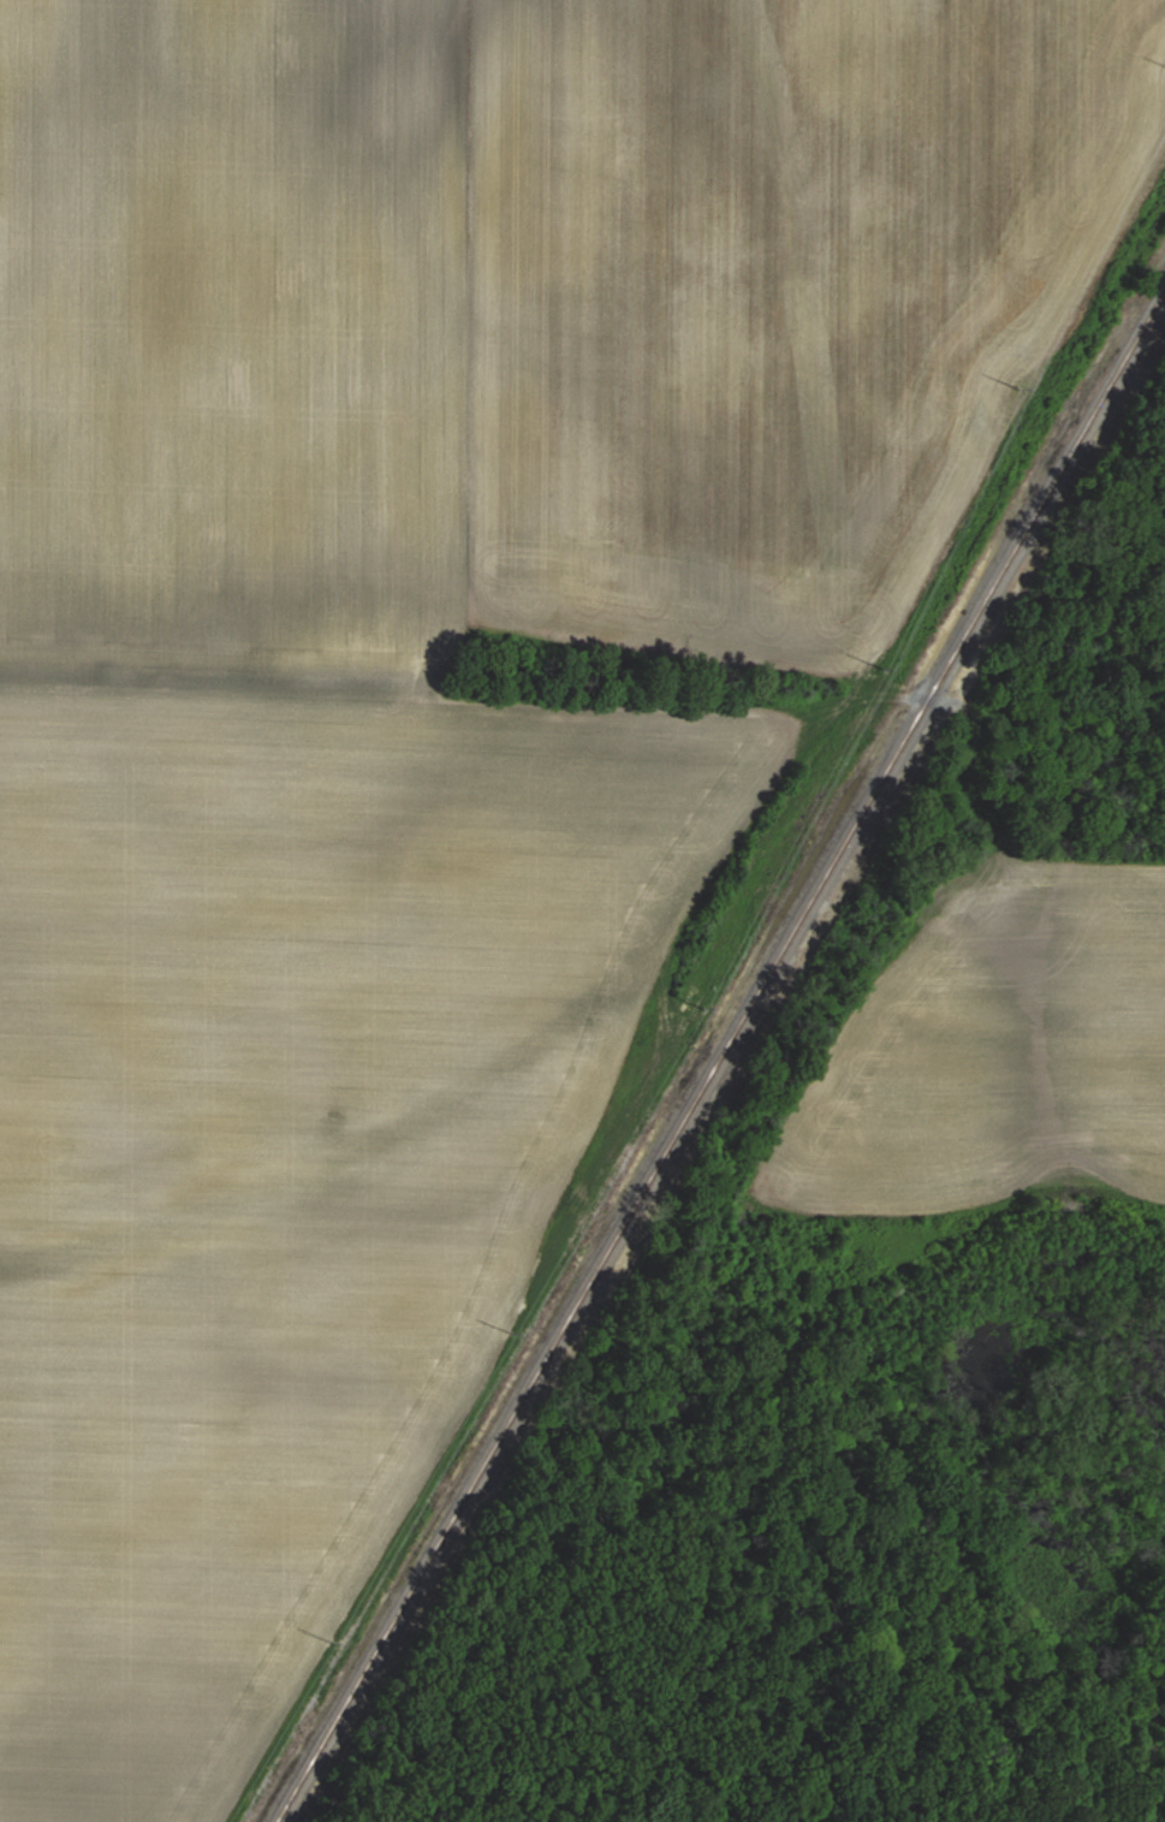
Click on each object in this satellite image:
railway: (726, 1052)

